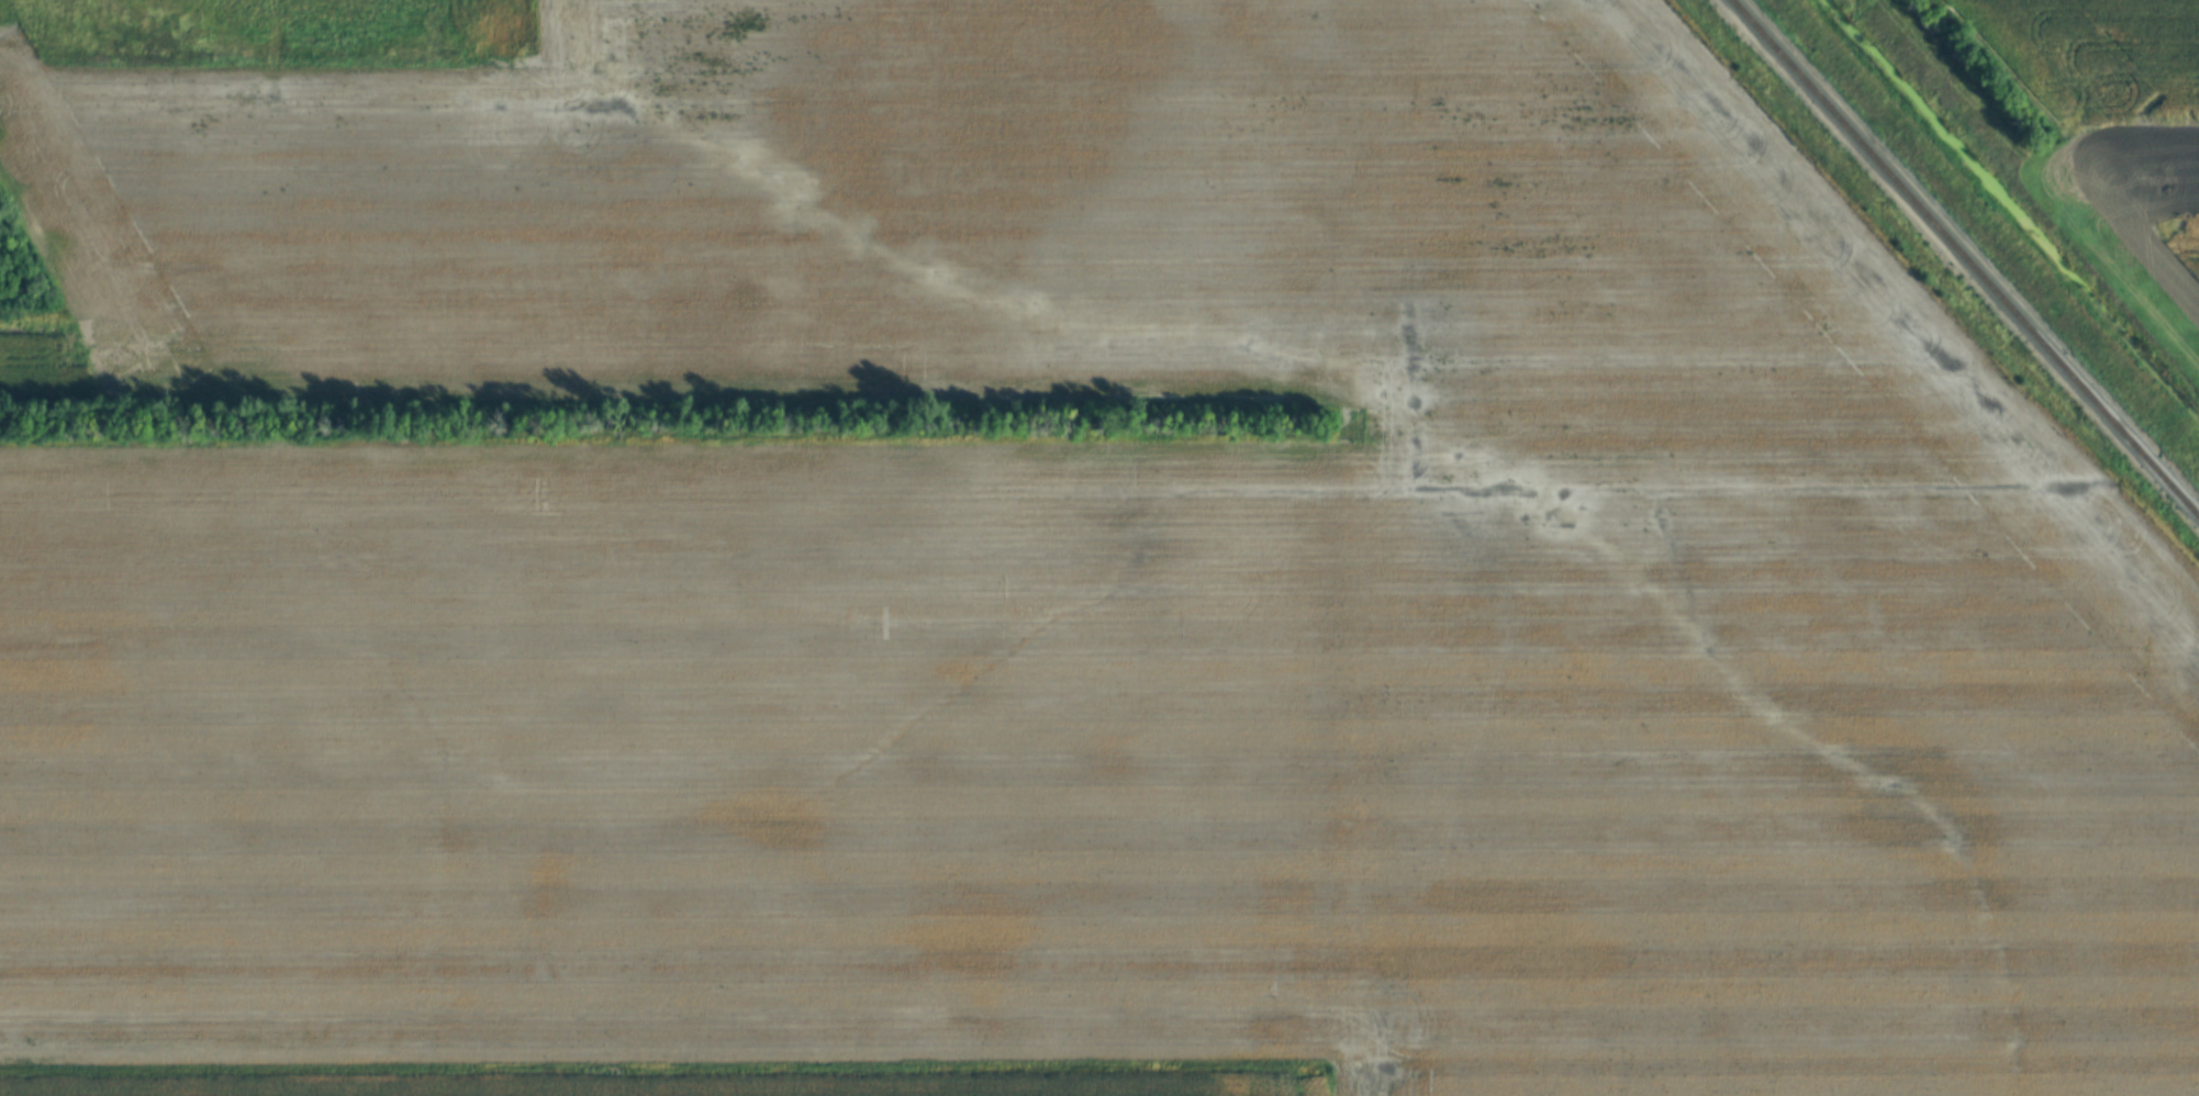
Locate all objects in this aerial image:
railway: (1963, 260)

